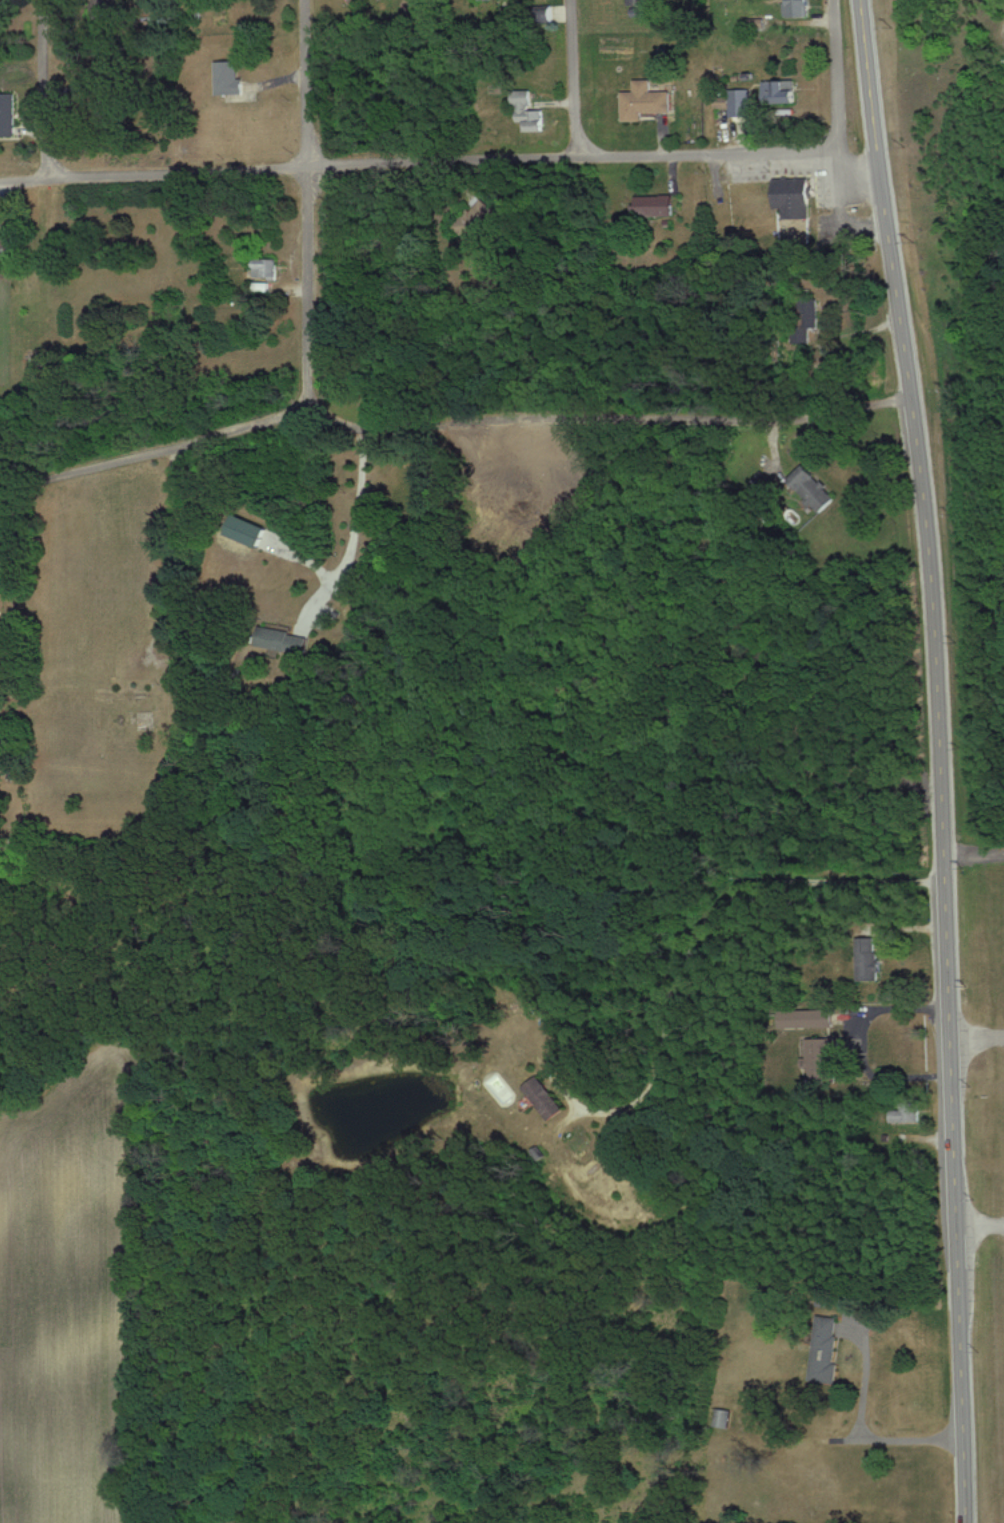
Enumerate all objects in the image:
building: (796, 8)
road: (834, 75)
building: (231, 78)
road: (577, 79)
road: (44, 90)
building: (783, 91)
building: (646, 101)
building: (527, 112)
building: (8, 115)
road: (461, 163)
road: (22, 180)
building: (795, 197)
road: (312, 204)
building: (264, 268)
road: (636, 417)
road: (277, 418)
road: (93, 465)
building: (249, 529)
road: (348, 534)
road: (172, 557)
road: (938, 759)
road: (702, 929)
building: (870, 969)
building: (821, 1018)
road: (978, 1039)
road: (858, 1047)
building: (545, 1098)
building: (906, 1114)
road: (982, 1226)
road: (864, 1427)

